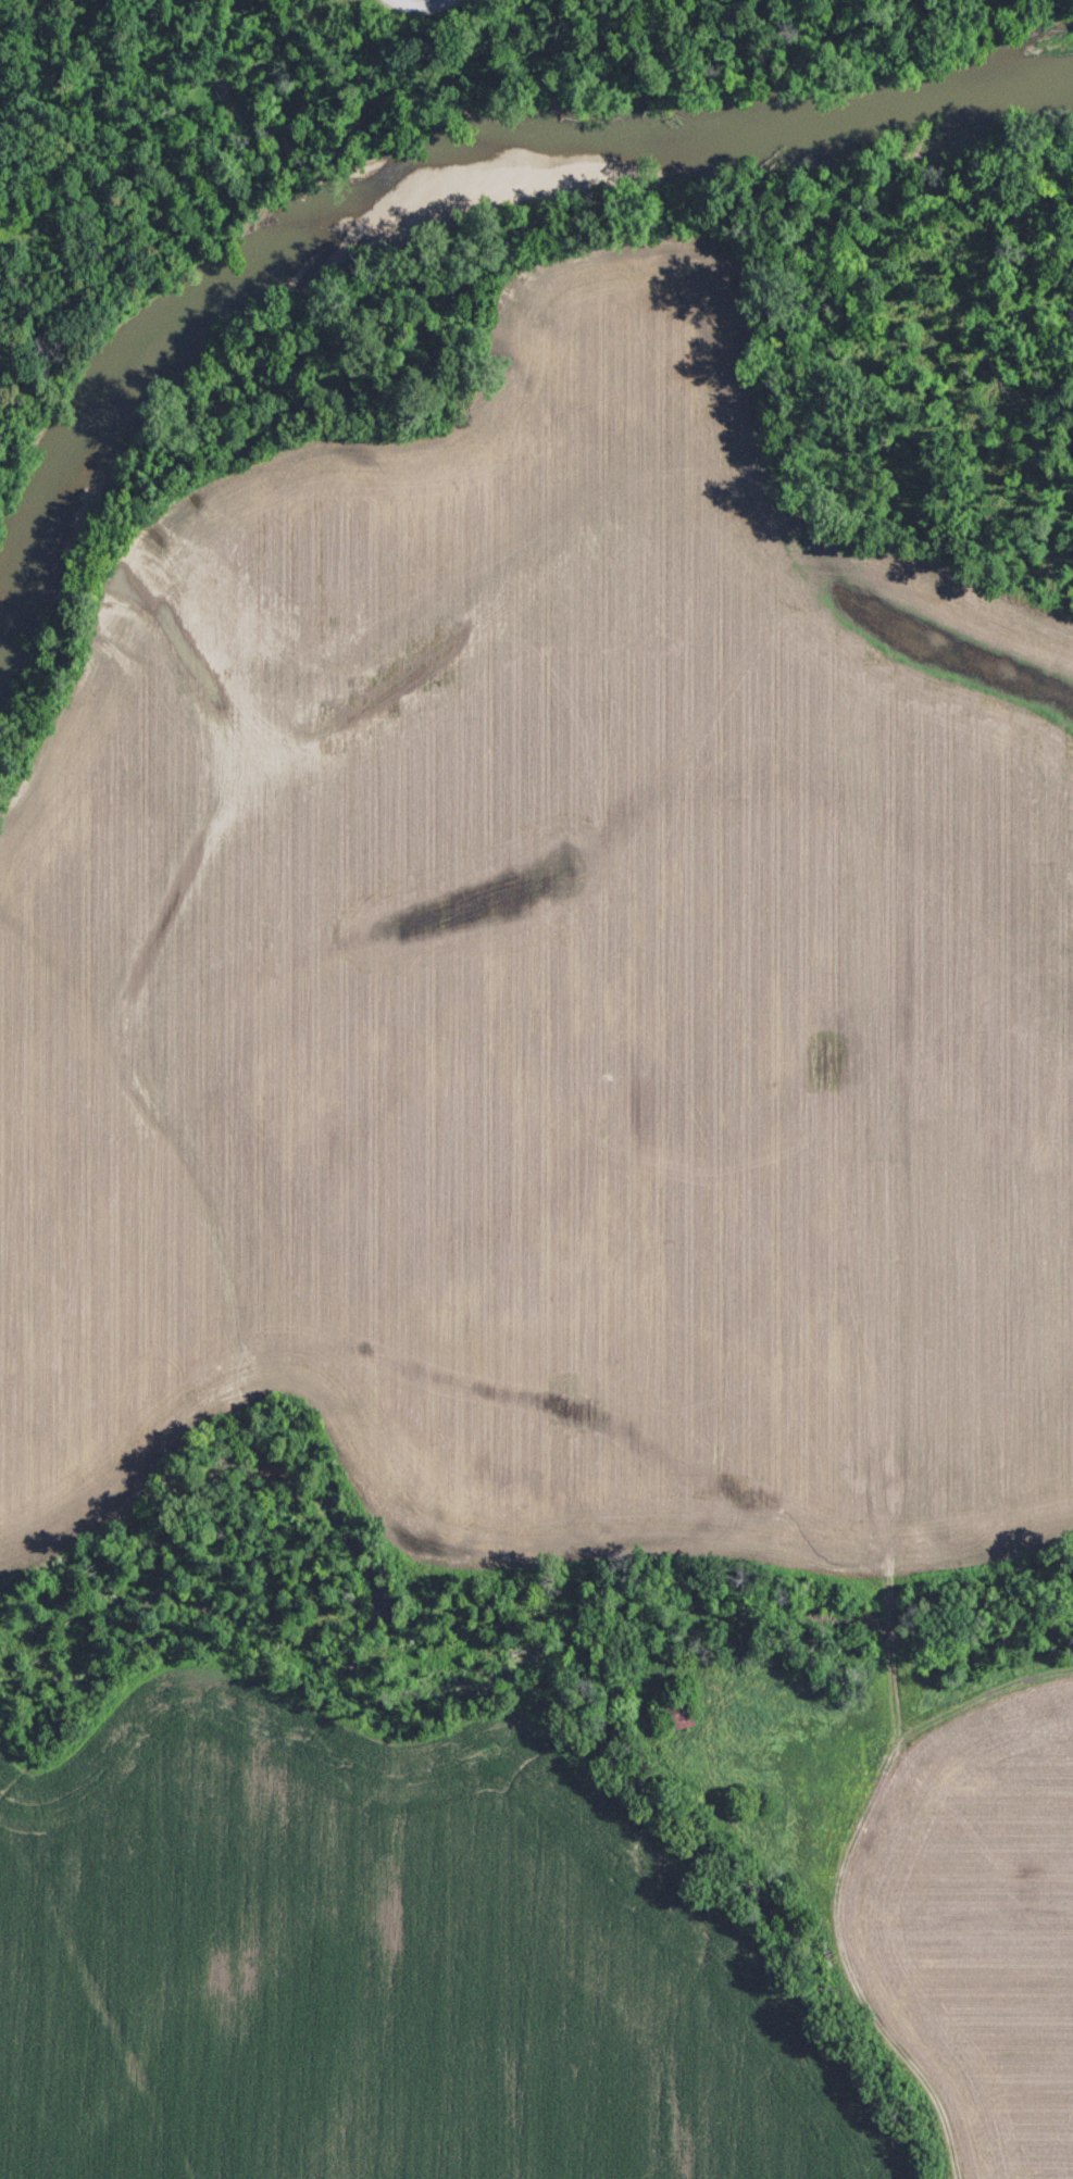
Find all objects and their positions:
road: (458, 30)
river: (453, 186)

